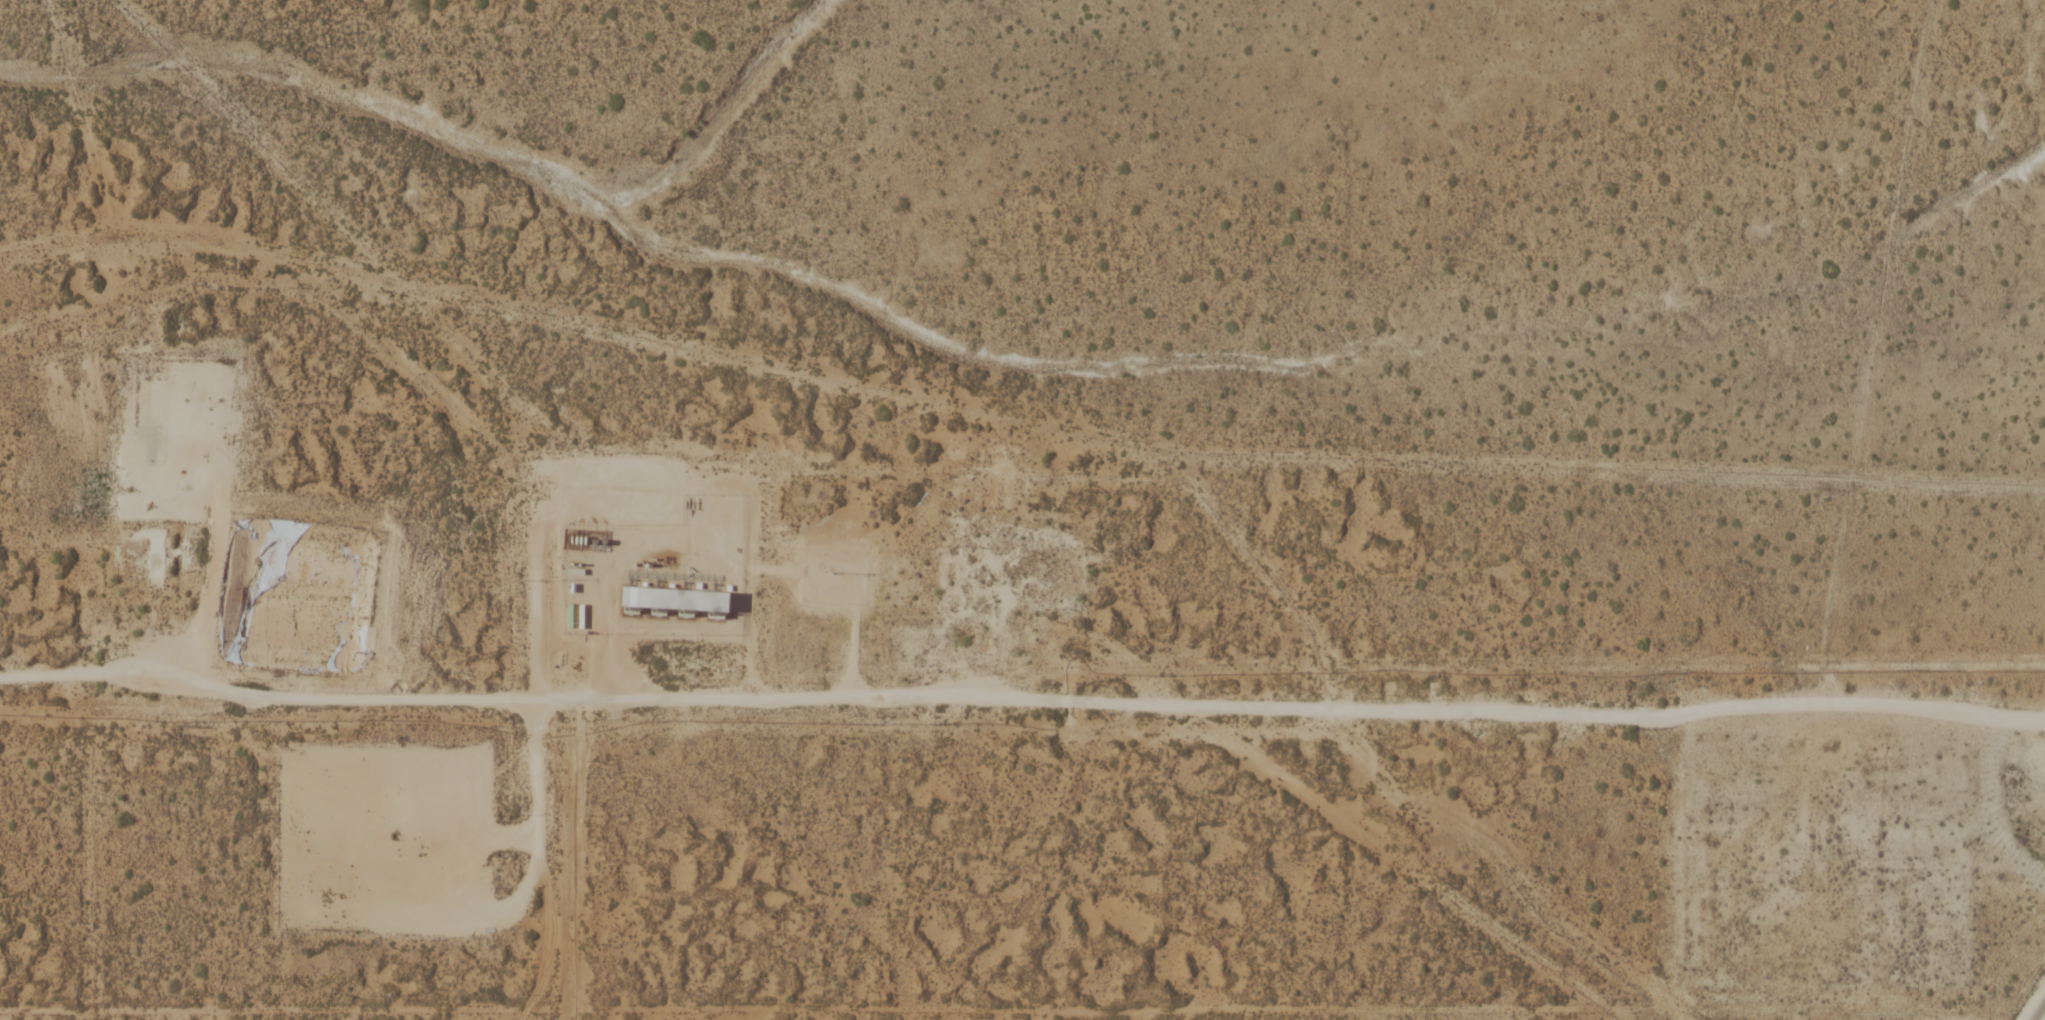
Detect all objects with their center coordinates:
road: (223, 492)
road: (650, 580)
road: (856, 595)
road: (1022, 700)
road: (519, 916)

